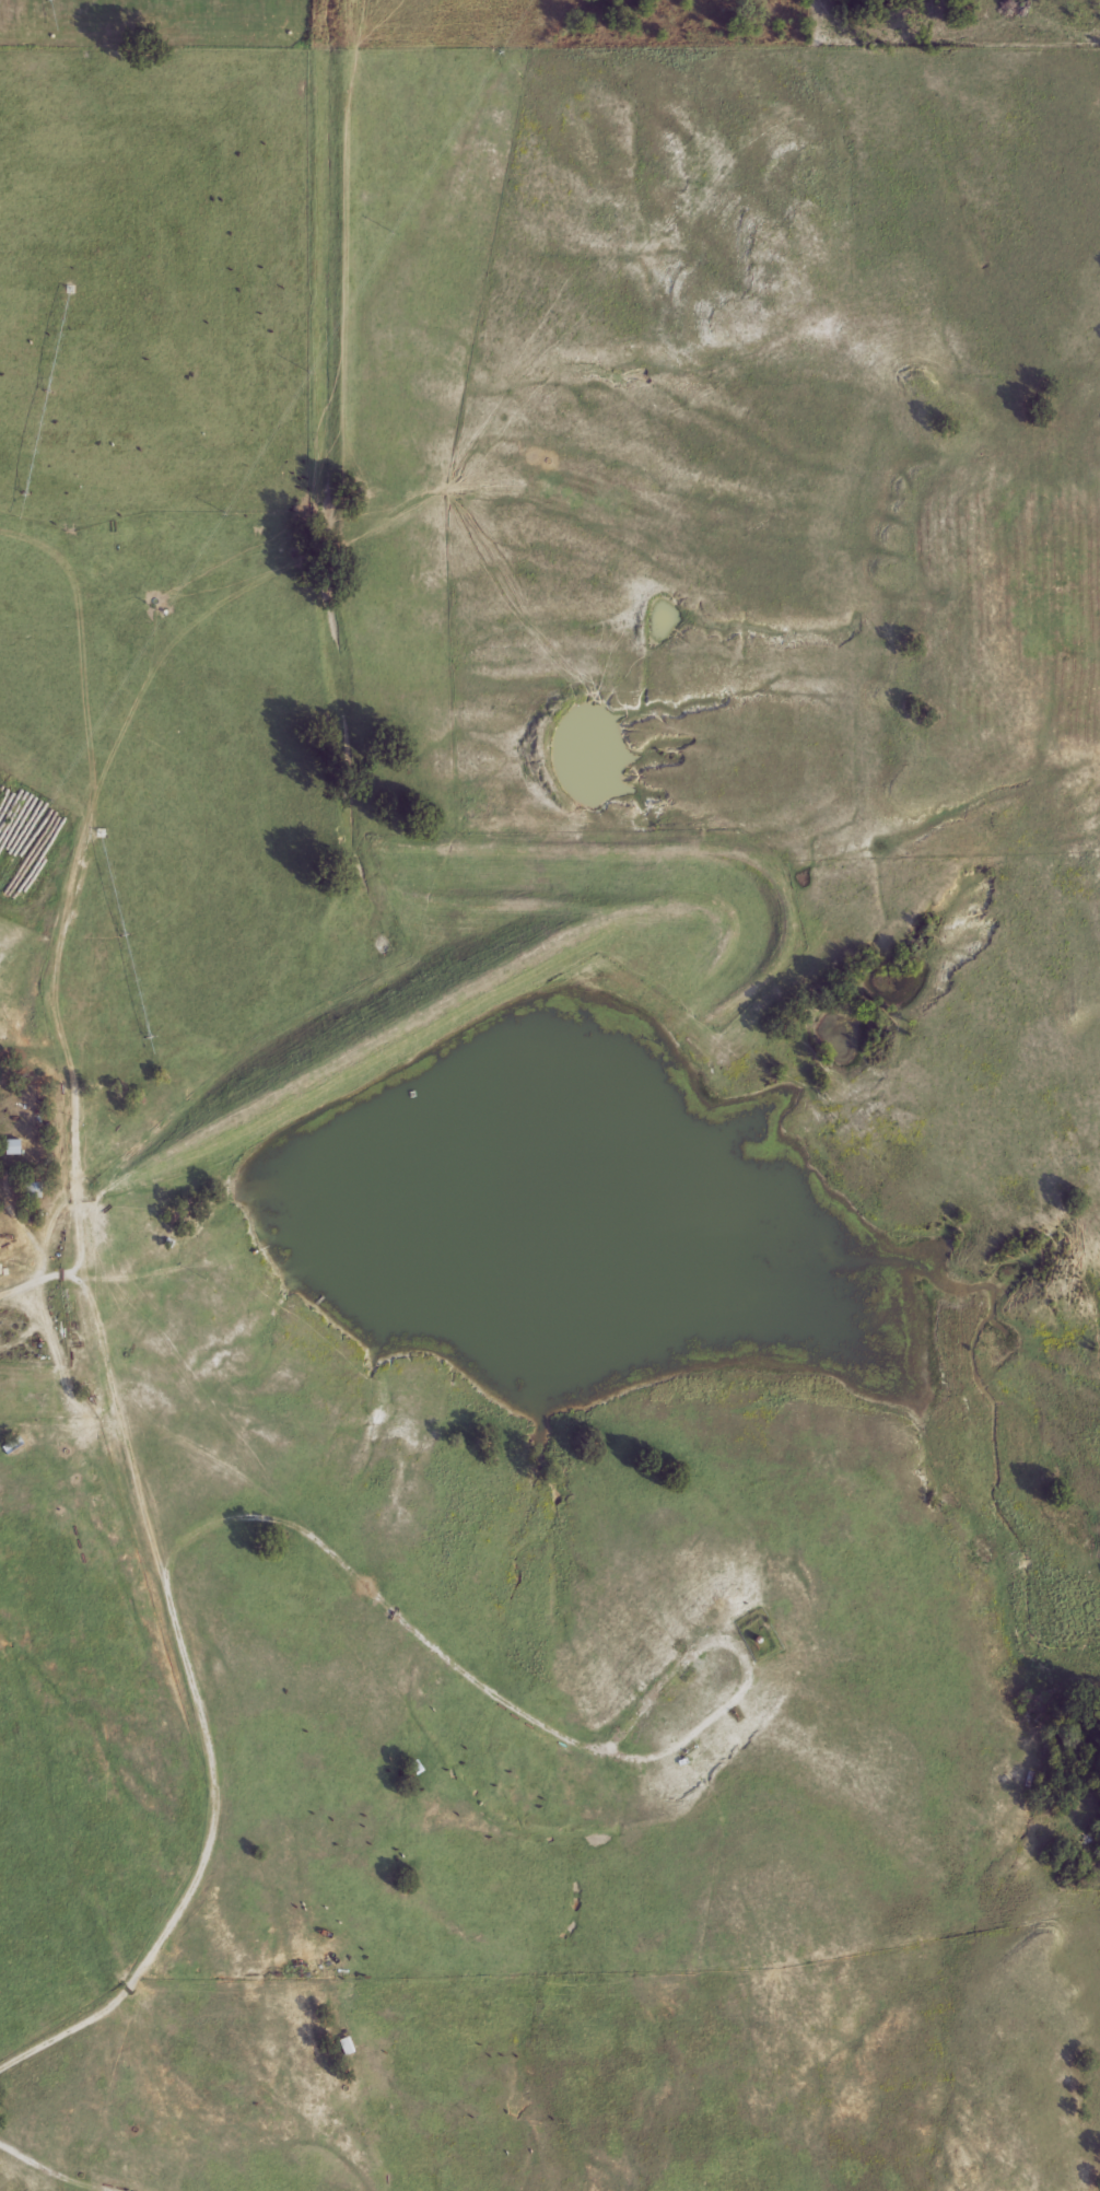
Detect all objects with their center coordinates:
building: (13, 1149)
building: (33, 1190)
road: (39, 1284)
road: (147, 1516)
road: (49, 2168)

